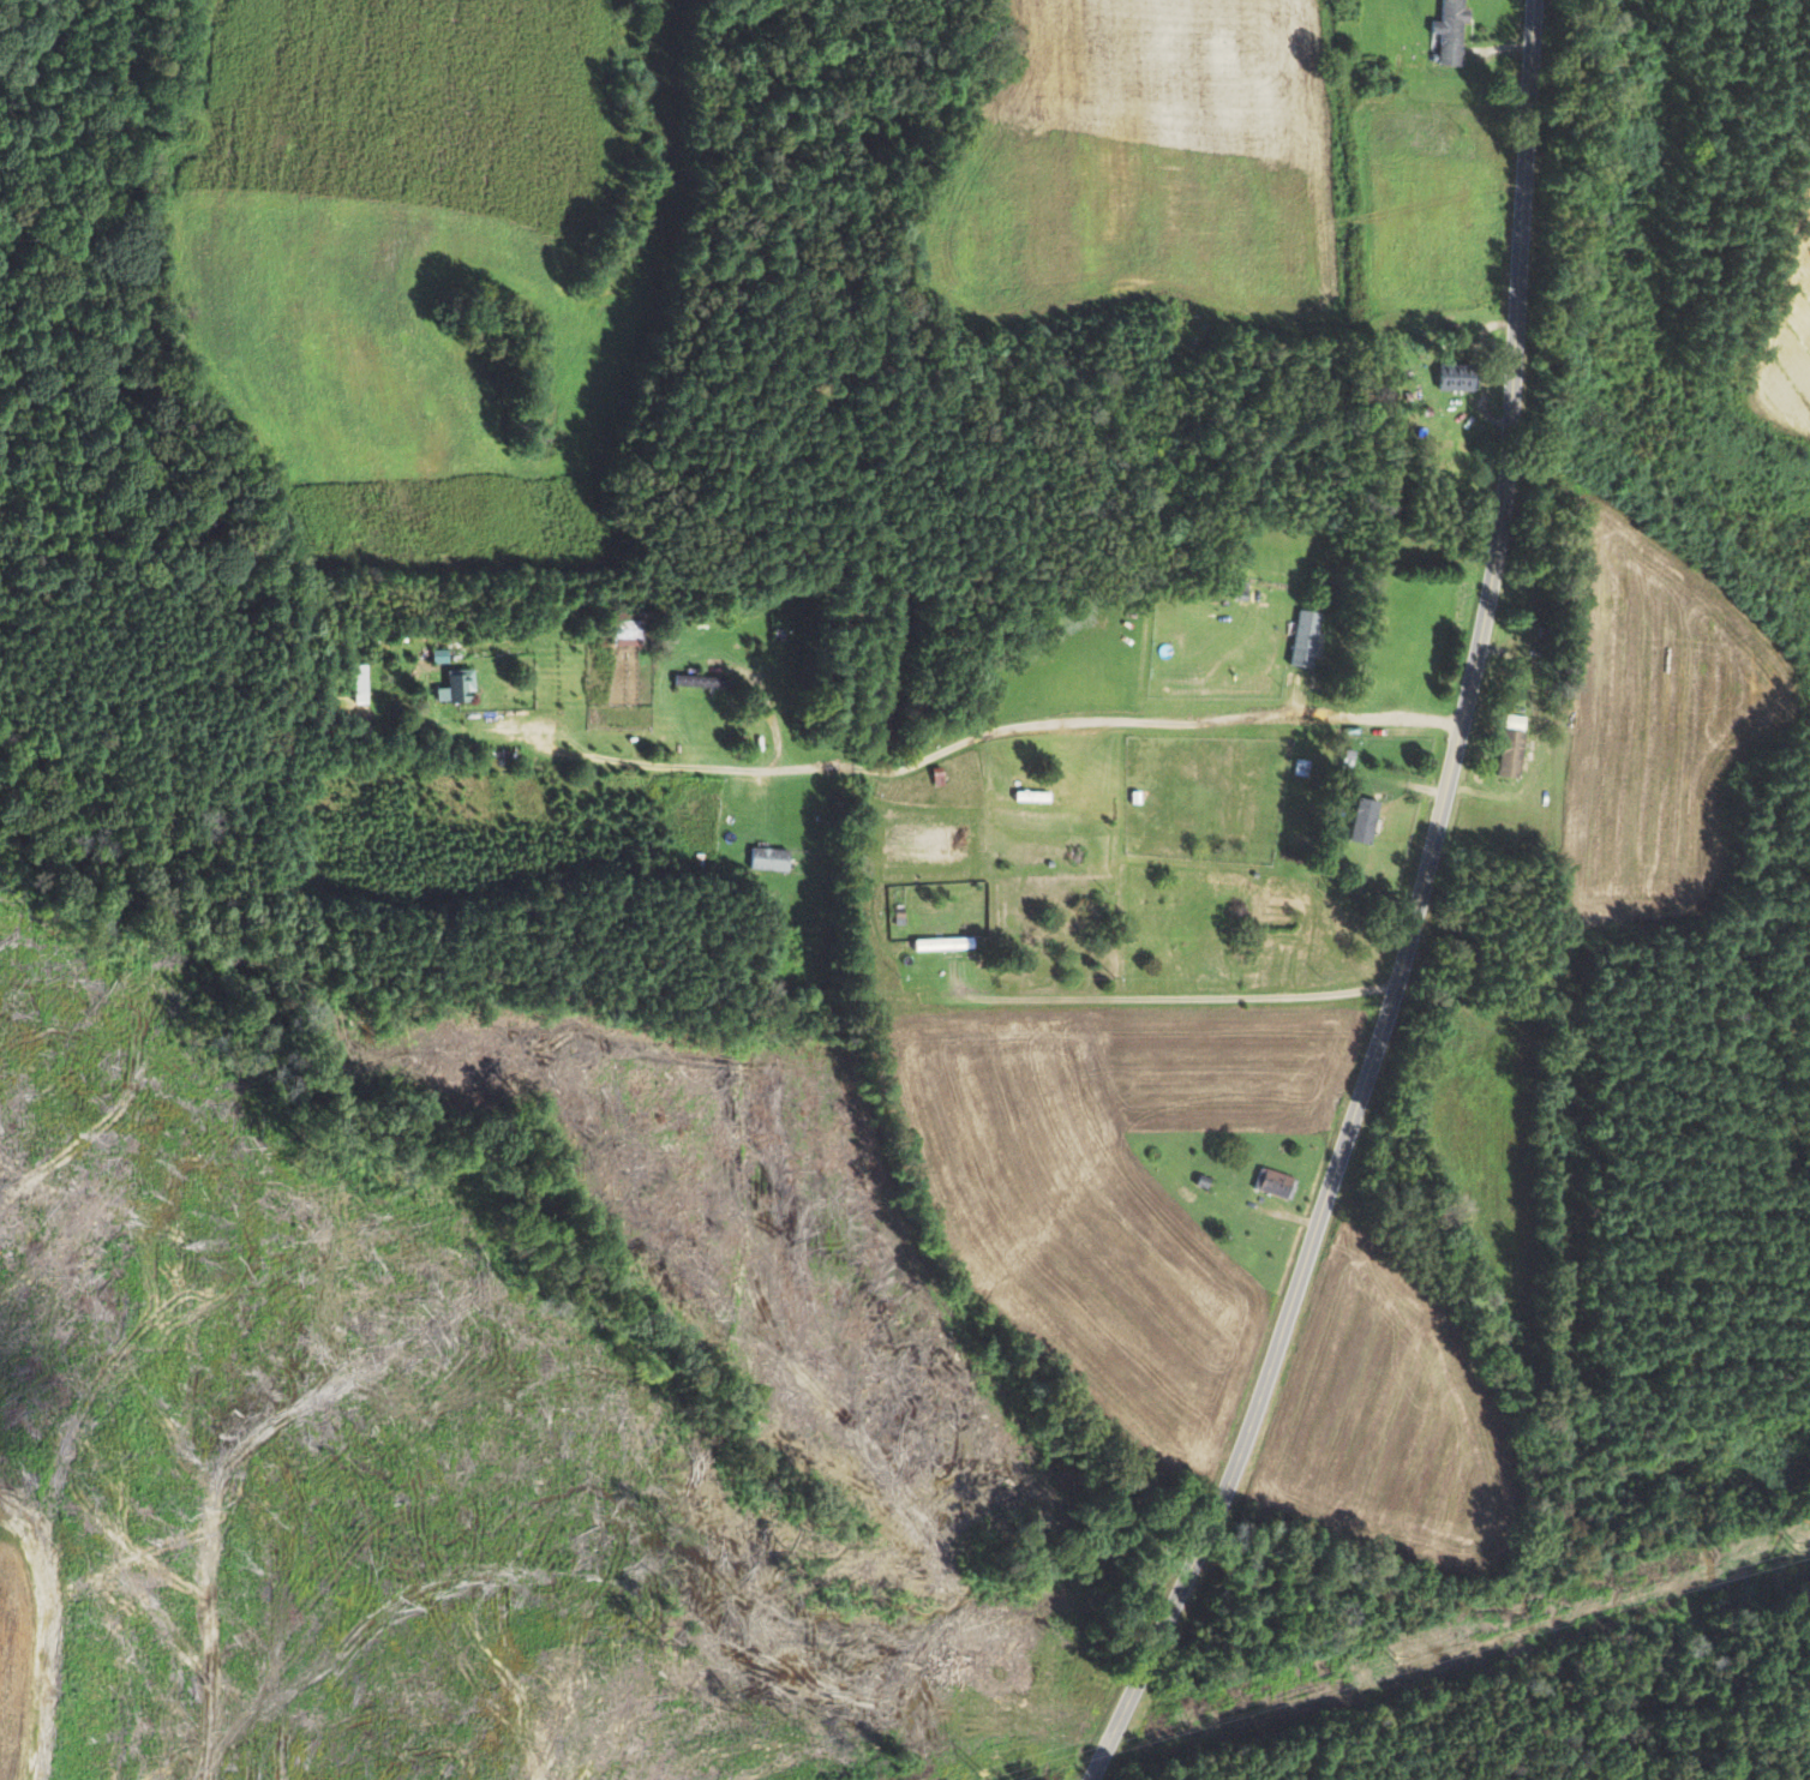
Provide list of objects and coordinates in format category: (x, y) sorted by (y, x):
building: (1452, 30)
building: (1461, 376)
building: (629, 628)
building: (1306, 639)
building: (705, 681)
building: (360, 683)
building: (462, 684)
road: (959, 741)
building: (1514, 753)
building: (1303, 767)
building: (1367, 820)
building: (769, 858)
road: (1409, 913)
building: (946, 943)
road: (1170, 999)
building: (1275, 1182)
power tower: (1798, 1547)
power tower: (1398, 1656)
power tower: (982, 1774)

